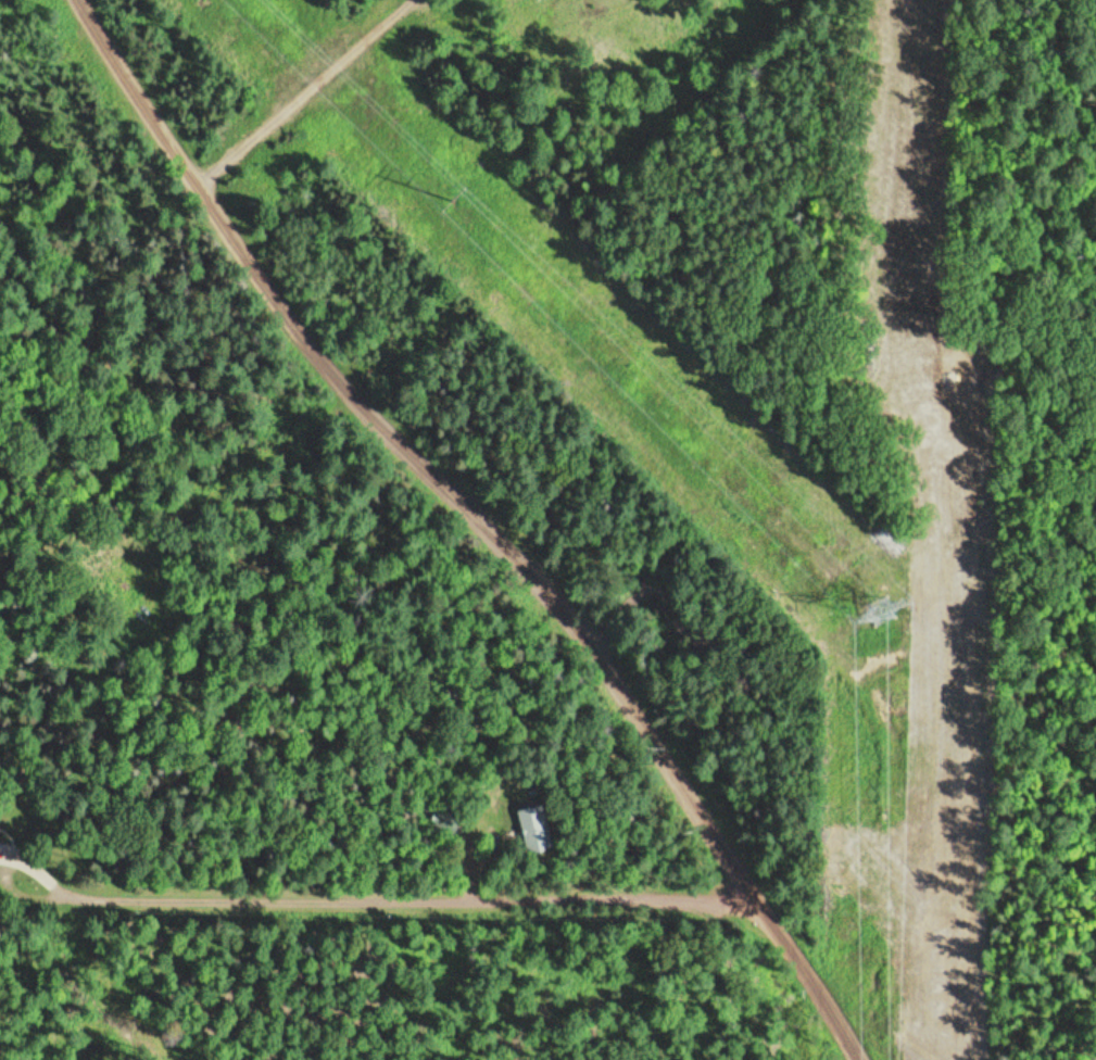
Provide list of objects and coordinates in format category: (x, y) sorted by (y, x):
road: (301, 85)
power tower: (450, 202)
road: (492, 525)
power tower: (889, 613)
building: (537, 829)
building: (0, 840)

